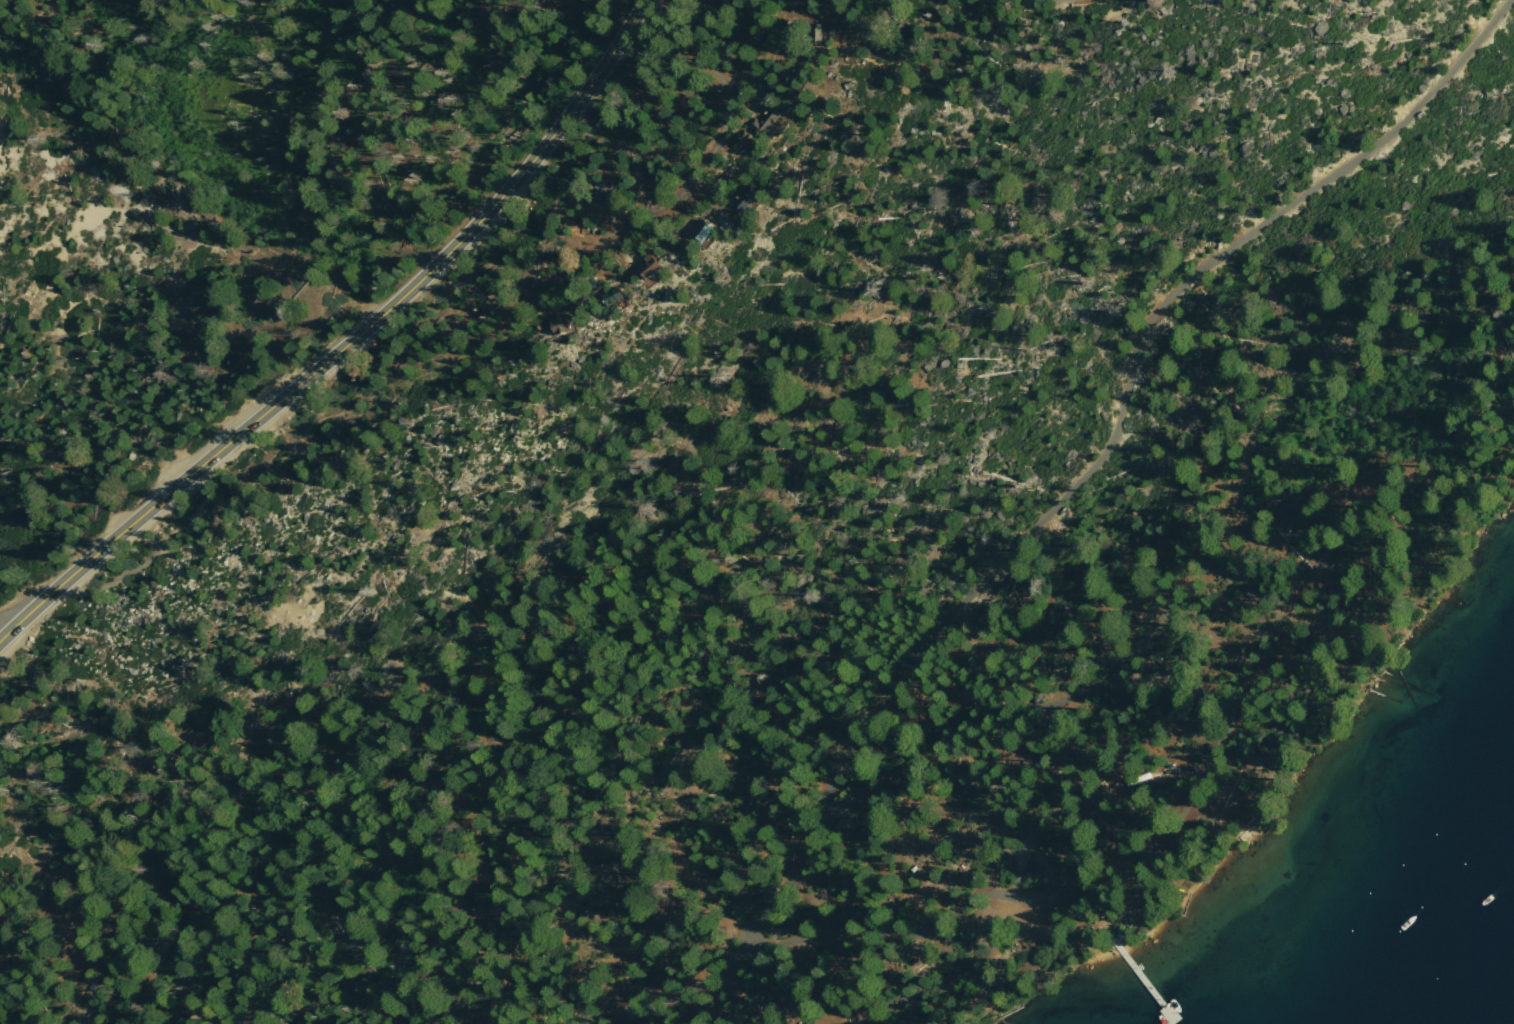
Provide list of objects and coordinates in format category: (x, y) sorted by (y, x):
building: (765, 124)
road: (660, 172)
building: (745, 200)
building: (703, 231)
building: (651, 270)
building: (614, 297)
road: (195, 327)
road: (341, 341)
road: (1108, 445)
road: (8, 624)
road: (1232, 741)
road: (1177, 771)
road: (1188, 788)
road: (1022, 858)
pier: (1140, 973)
road: (688, 981)

